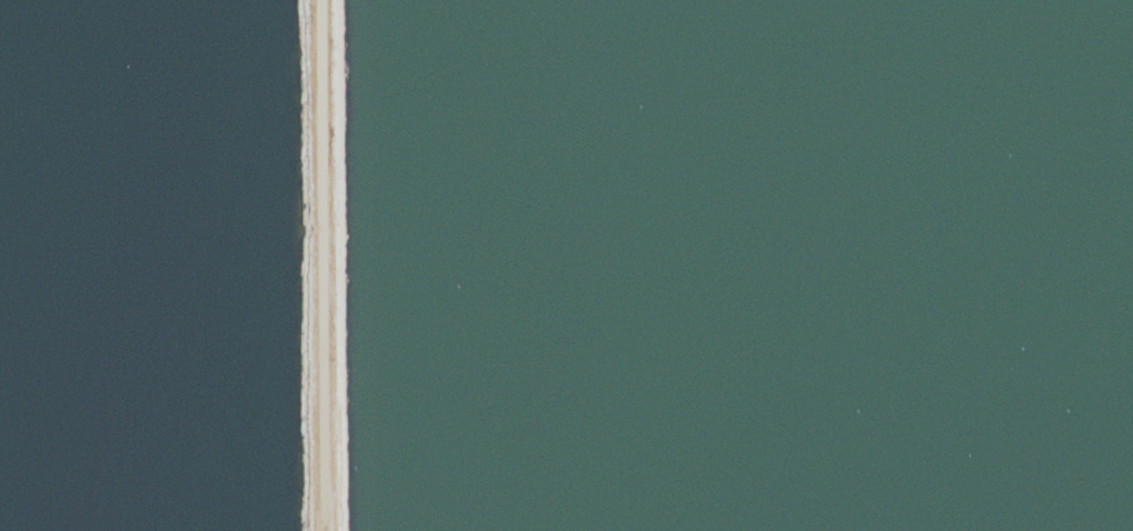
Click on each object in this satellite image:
road: (320, 265)
wastewater plant: (566, 265)

